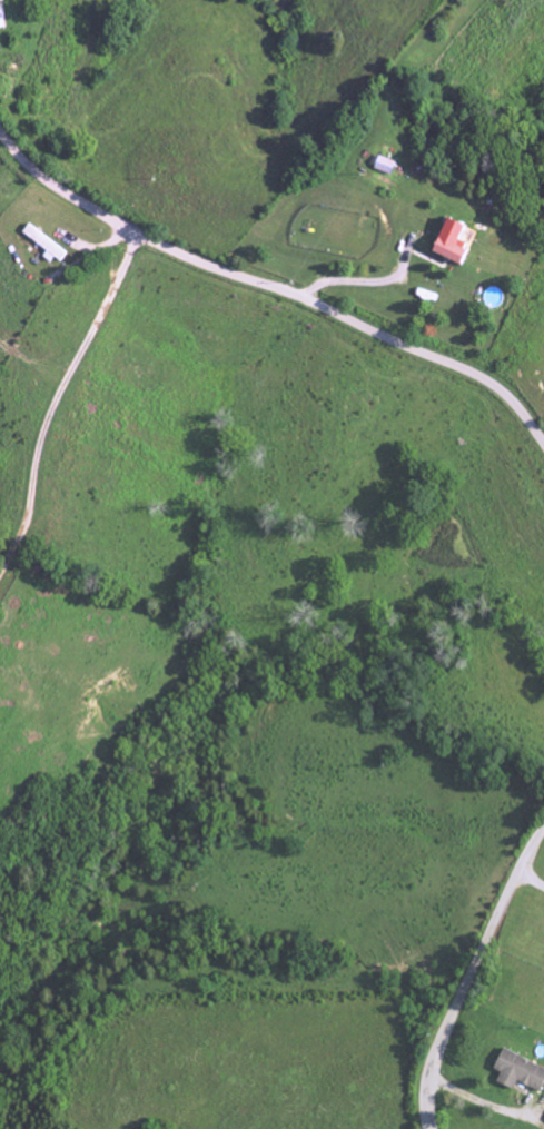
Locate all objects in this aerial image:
building: (44, 242)
building: (449, 242)
road: (365, 283)
road: (270, 288)
road: (57, 403)
road: (531, 882)
road: (471, 977)
building: (518, 1072)
road: (487, 1105)

